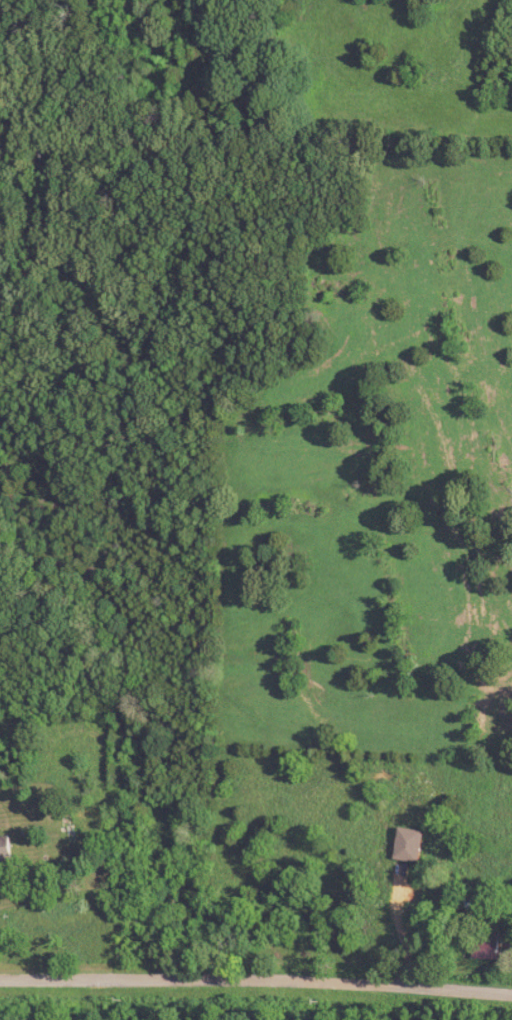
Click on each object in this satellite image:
building: (410, 846)
building: (6, 851)
road: (27, 864)
road: (399, 926)
road: (256, 980)

